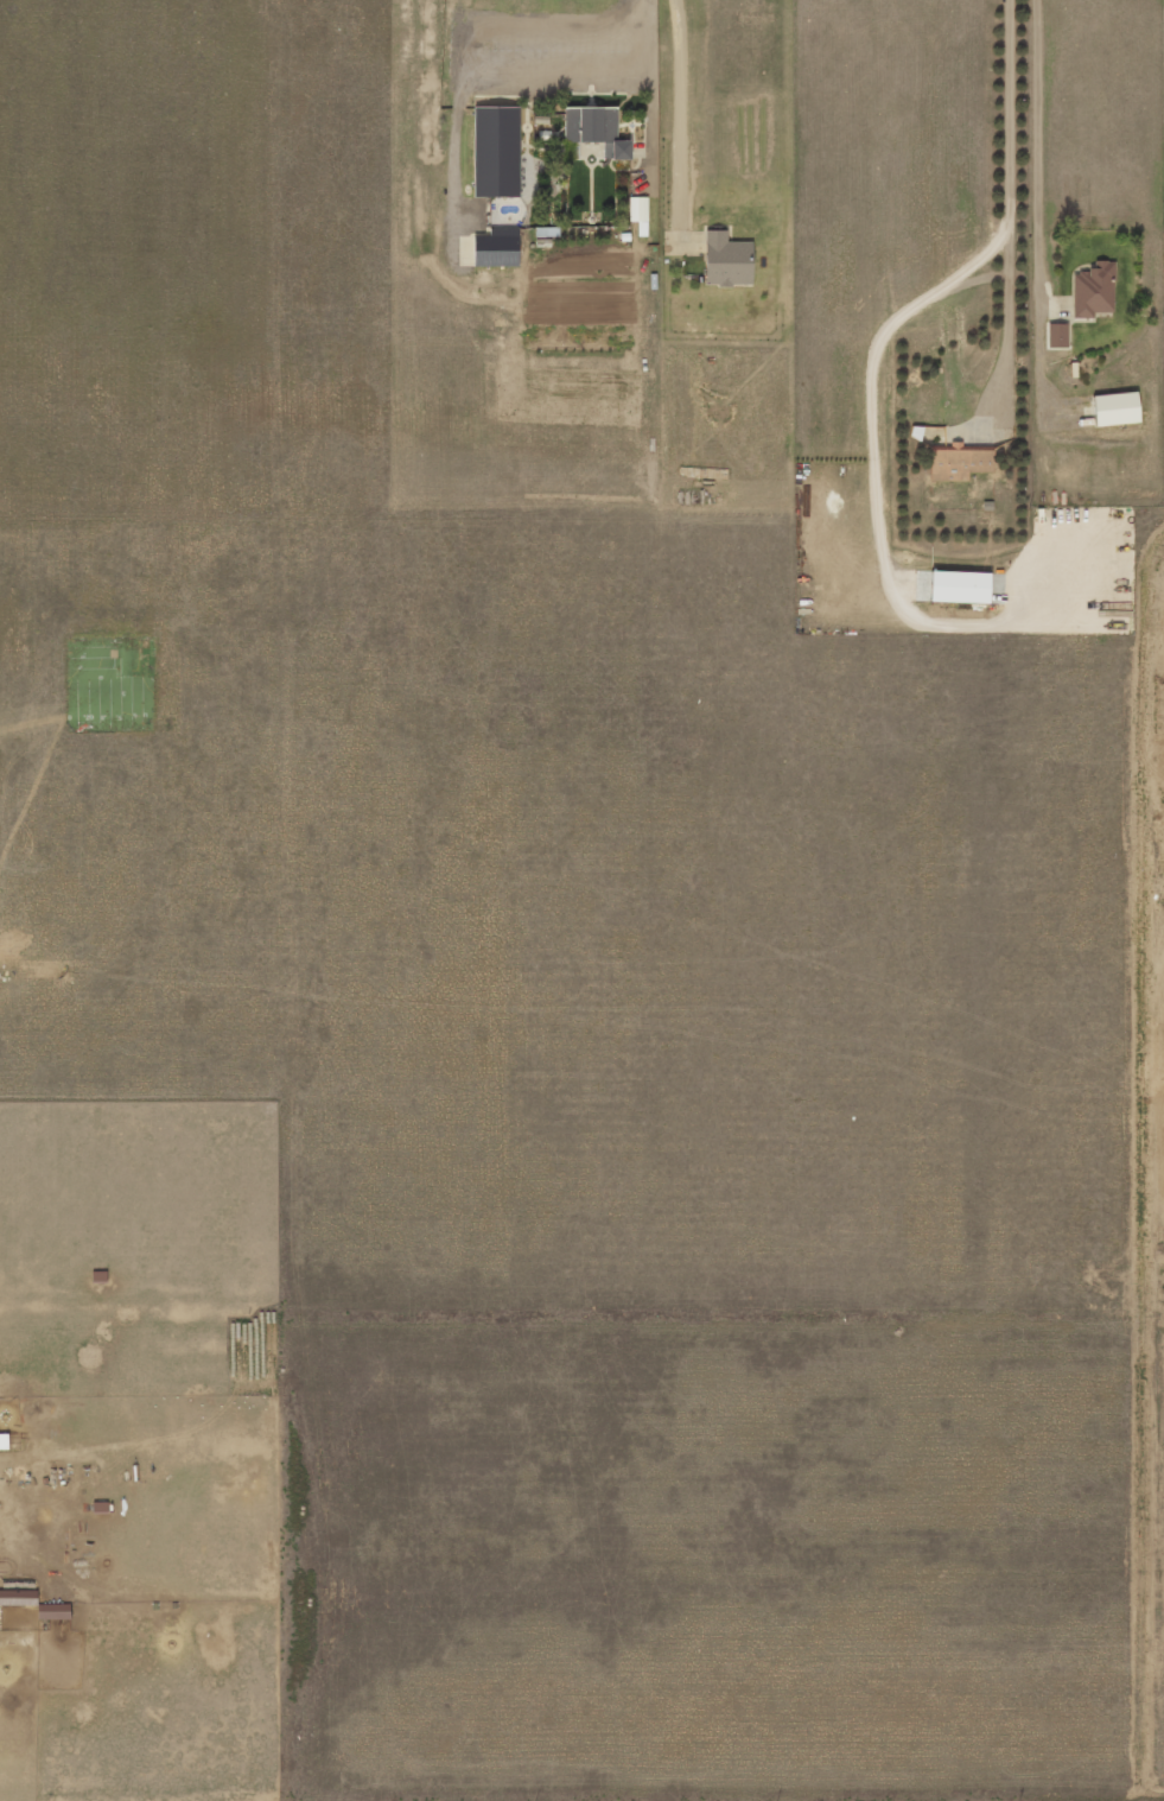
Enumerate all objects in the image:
building: (597, 131)
building: (495, 153)
building: (637, 210)
building: (496, 248)
building: (726, 261)
building: (1093, 291)
building: (1057, 336)
building: (1115, 410)
building: (959, 464)
building: (960, 588)
building: (4, 1442)
building: (53, 1612)

